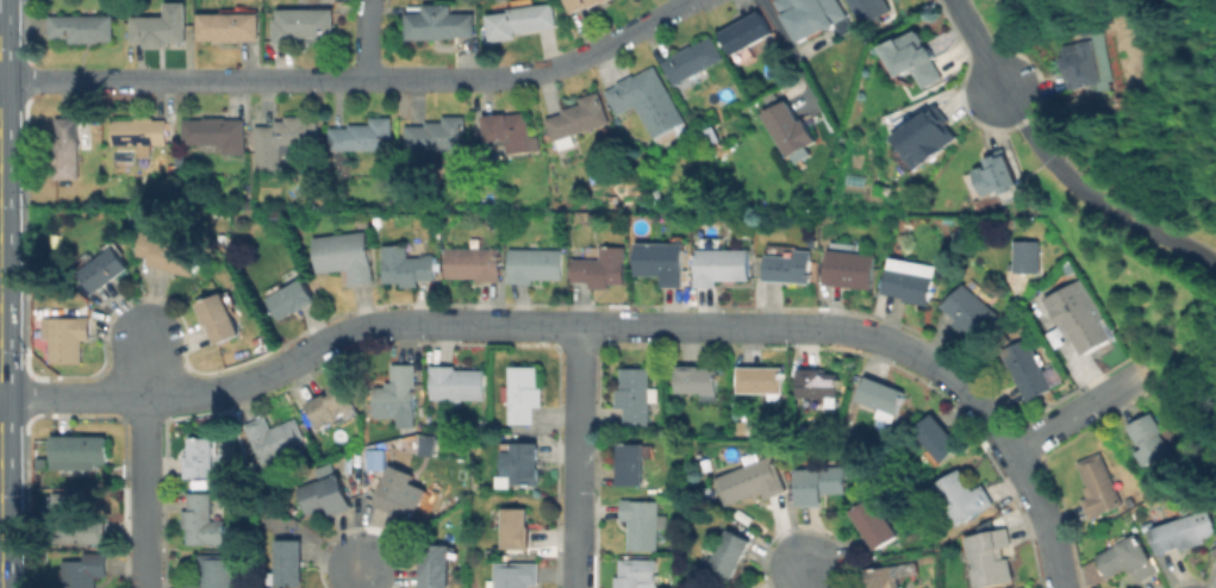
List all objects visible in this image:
building: (604, 0)
building: (580, 4)
building: (869, 10)
building: (813, 15)
building: (520, 19)
building: (438, 20)
building: (303, 23)
building: (227, 25)
building: (82, 26)
building: (158, 27)
building: (744, 33)
road: (366, 37)
road: (786, 49)
road: (980, 49)
building: (692, 58)
building: (912, 61)
building: (1081, 64)
road: (354, 76)
building: (648, 102)
building: (578, 118)
building: (790, 129)
building: (507, 130)
building: (217, 131)
building: (142, 132)
building: (437, 133)
building: (363, 135)
building: (922, 137)
building: (283, 138)
building: (67, 149)
building: (996, 179)
road: (1093, 201)
rooftop solar panel: (955, 231)
building: (173, 255)
building: (345, 255)
building: (1029, 258)
building: (662, 261)
building: (474, 263)
building: (535, 264)
building: (721, 264)
building: (406, 265)
building: (790, 265)
building: (601, 267)
building: (849, 268)
building: (106, 271)
building: (909, 284)
road: (1102, 290)
building: (292, 298)
building: (972, 309)
building: (218, 317)
building: (1077, 318)
road: (451, 324)
building: (67, 337)
building: (1028, 368)
building: (698, 379)
building: (762, 380)
building: (457, 382)
building: (819, 384)
building: (397, 393)
building: (523, 393)
road: (971, 394)
building: (636, 396)
building: (883, 396)
building: (787, 398)
building: (331, 404)
road: (1078, 414)
building: (938, 437)
building: (275, 438)
building: (1149, 438)
building: (423, 444)
building: (81, 451)
road: (578, 456)
building: (201, 457)
road: (143, 458)
building: (374, 458)
building: (524, 462)
building: (632, 464)
building: (750, 480)
building: (819, 483)
building: (1097, 486)
building: (326, 490)
building: (964, 495)
building: (400, 500)
road: (1044, 518)
building: (76, 519)
building: (202, 520)
building: (873, 523)
building: (642, 524)
building: (517, 527)
building: (1184, 532)
building: (731, 553)
building: (1214, 553)
building: (992, 556)
building: (1128, 558)
building: (288, 562)
building: (437, 567)
building: (85, 570)
building: (214, 571)
road: (816, 571)
building: (636, 573)
road: (358, 574)
building: (516, 574)
building: (883, 577)
building: (743, 587)
building: (749, 587)

